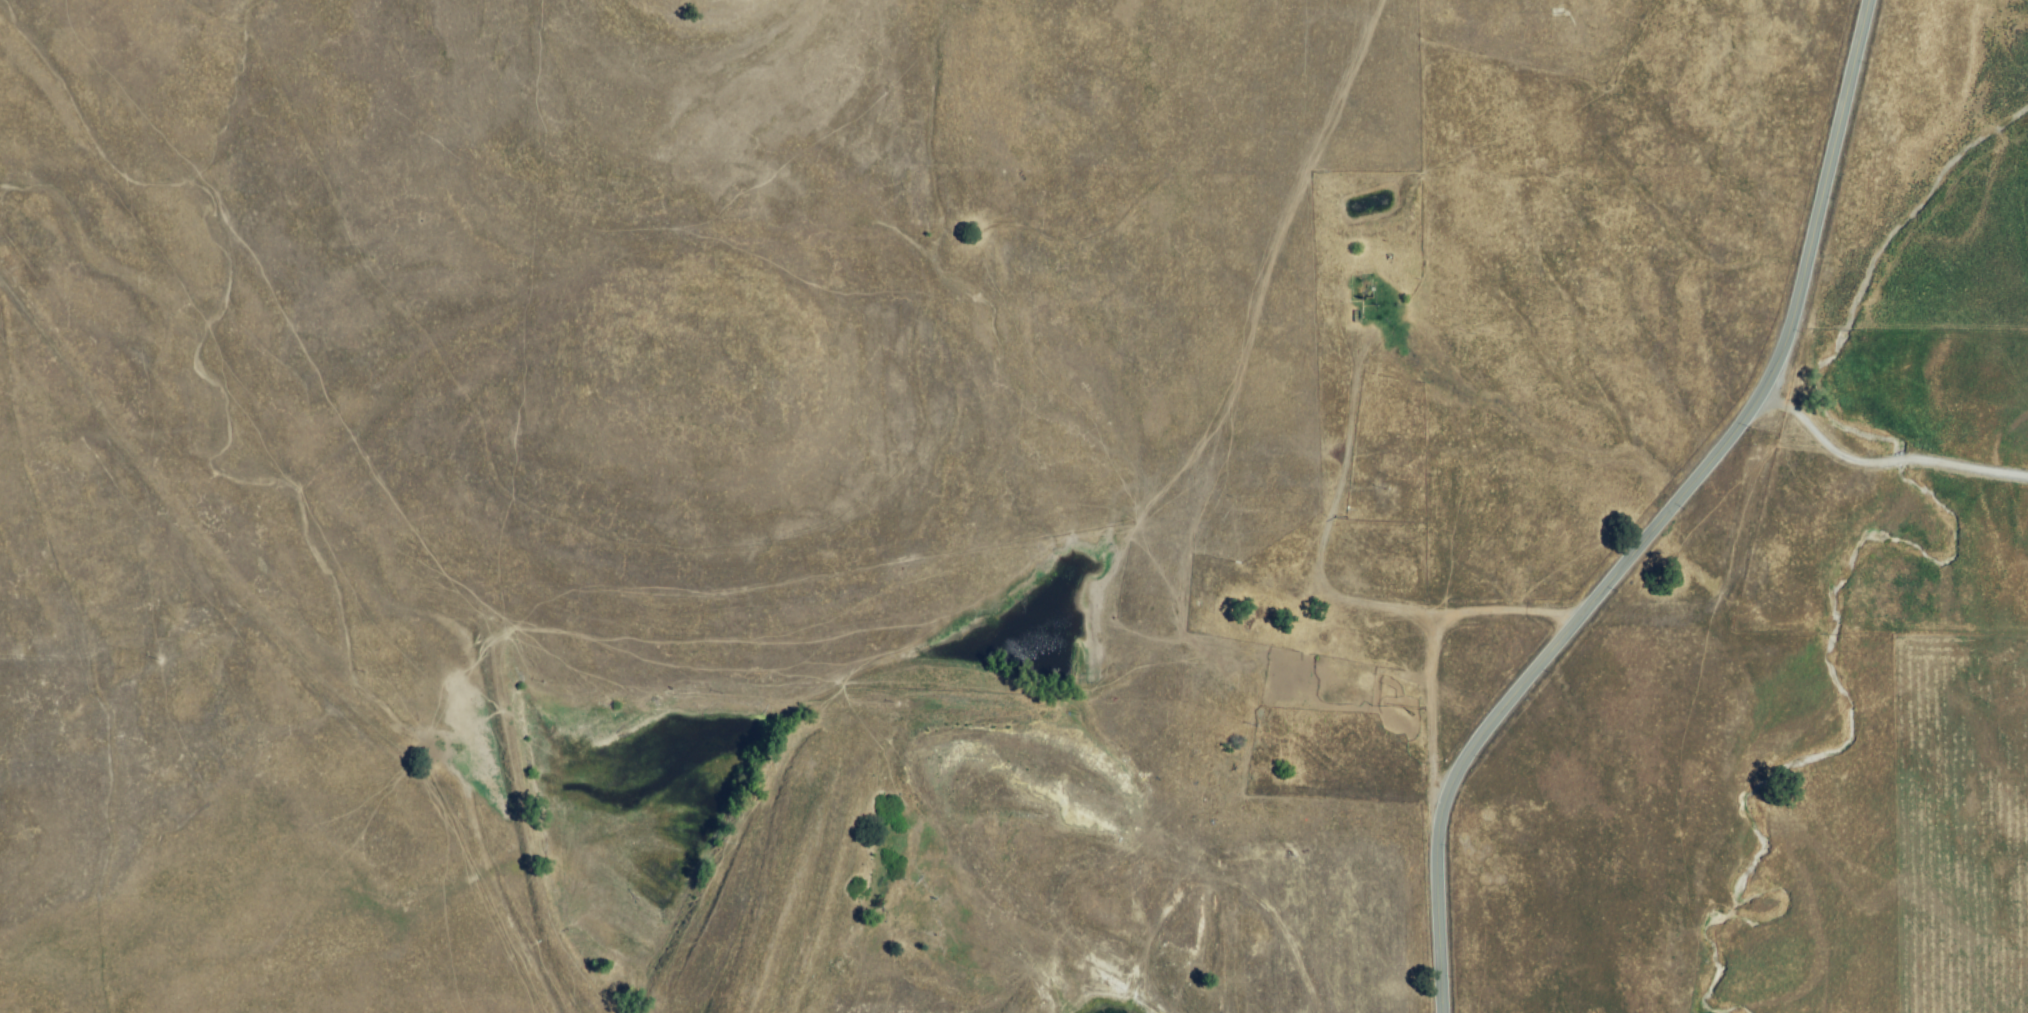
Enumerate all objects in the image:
road: (1883, 462)
road: (1663, 520)

